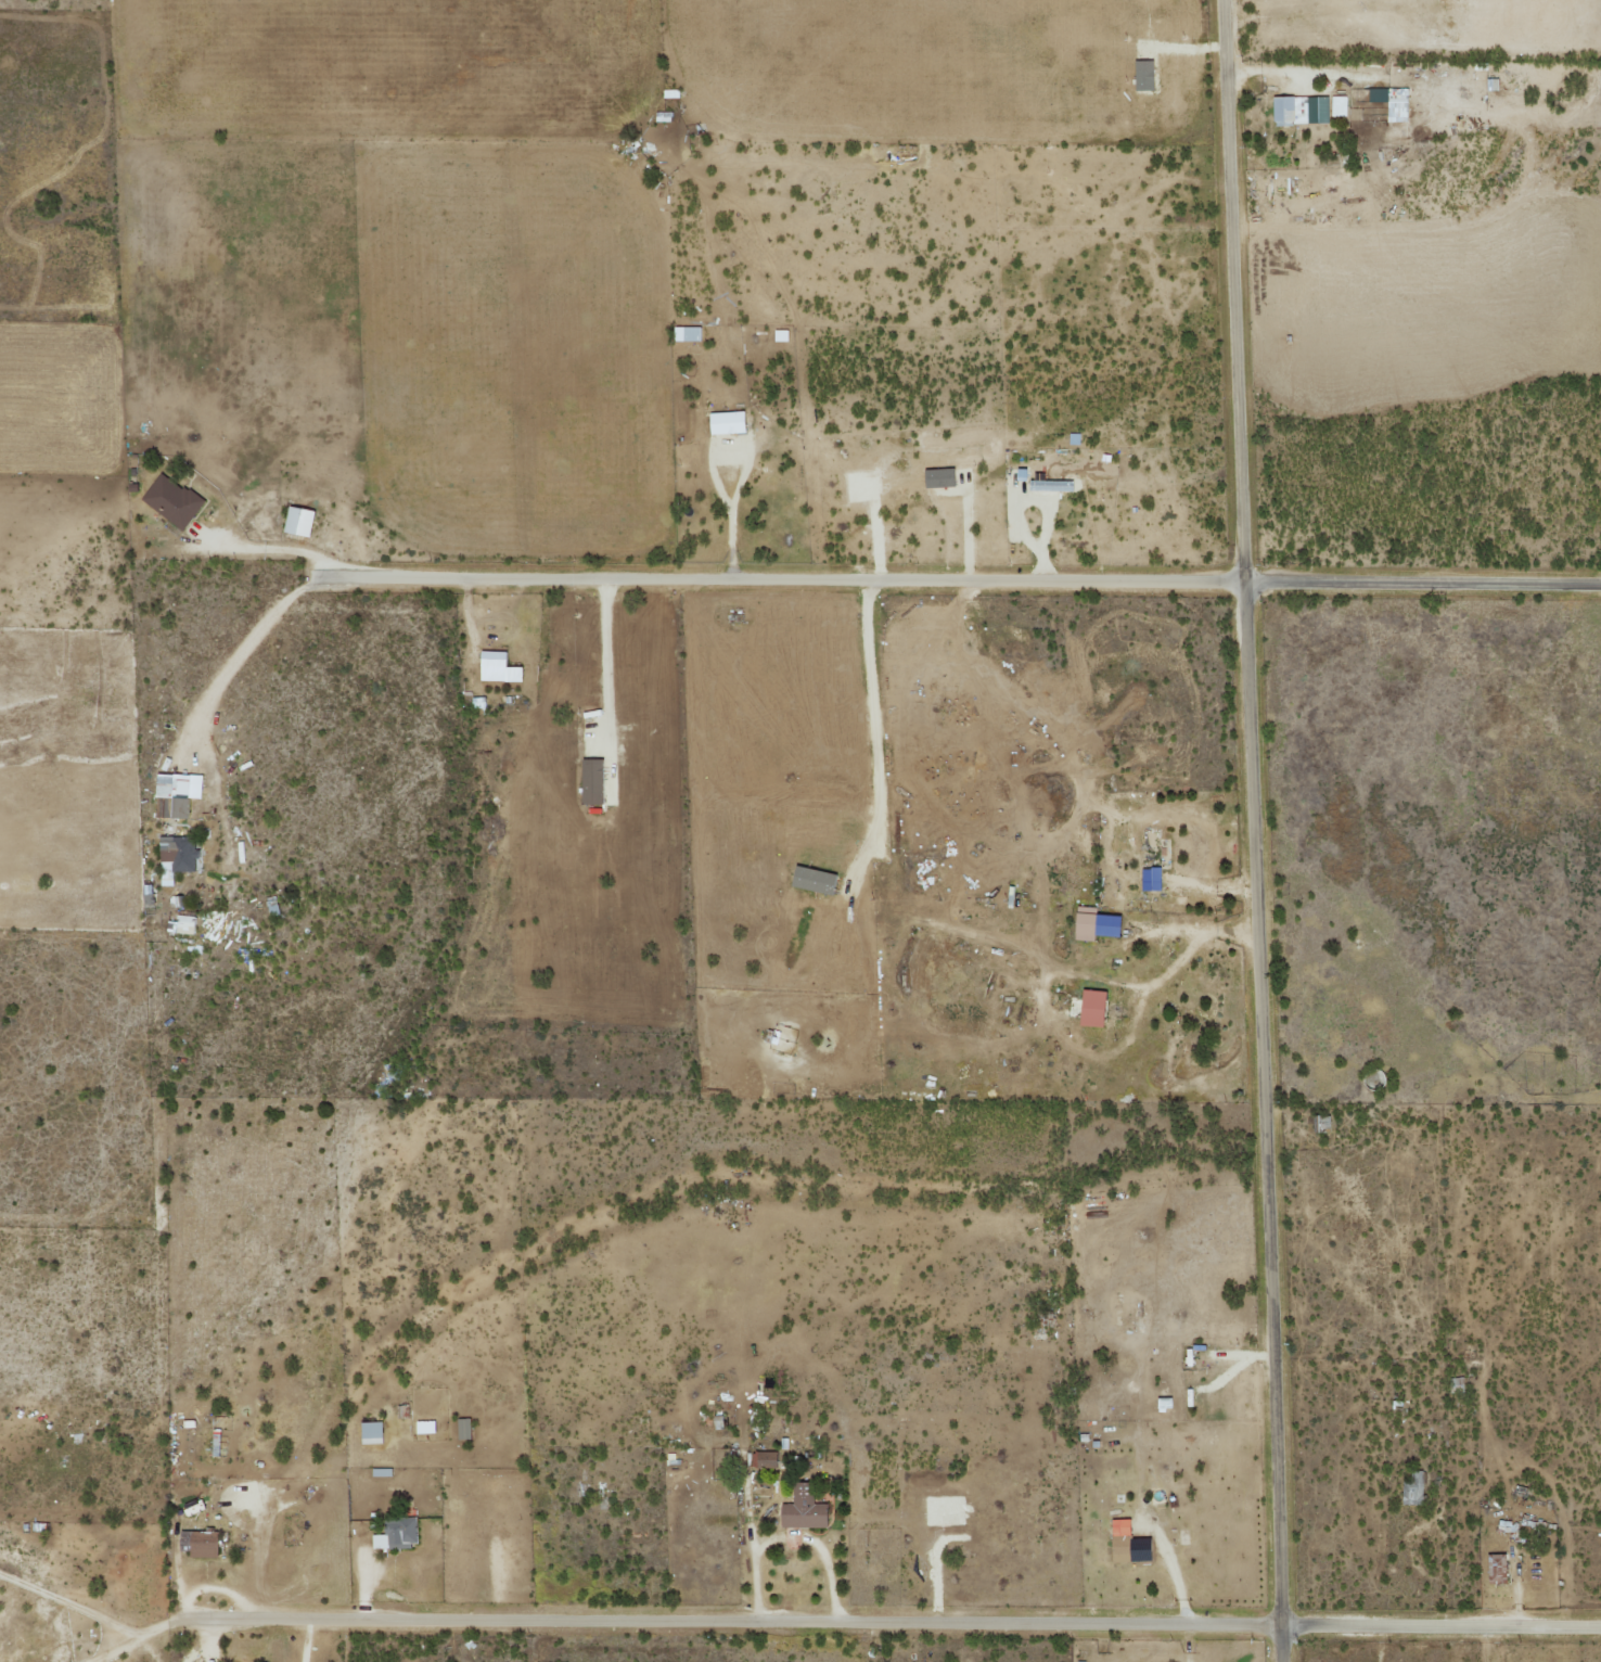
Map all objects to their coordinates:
building: (1143, 75)
building: (1493, 85)
building: (669, 93)
building: (1391, 102)
building: (1339, 106)
building: (1299, 111)
building: (663, 116)
building: (687, 333)
building: (780, 335)
building: (726, 423)
building: (1074, 438)
building: (1050, 486)
building: (172, 500)
building: (297, 521)
road: (1421, 579)
road: (795, 580)
building: (497, 667)
building: (477, 702)
building: (590, 780)
building: (175, 794)
road: (1250, 830)
building: (176, 857)
building: (1150, 879)
building: (812, 880)
building: (1093, 923)
building: (181, 924)
building: (1090, 1008)
building: (1163, 1404)
building: (424, 1427)
building: (463, 1429)
building: (371, 1433)
building: (215, 1445)
building: (764, 1460)
building: (381, 1472)
building: (1411, 1490)
building: (803, 1509)
building: (397, 1533)
building: (1119, 1540)
building: (203, 1544)
building: (1496, 1569)
road: (742, 1623)
road: (1439, 1627)

